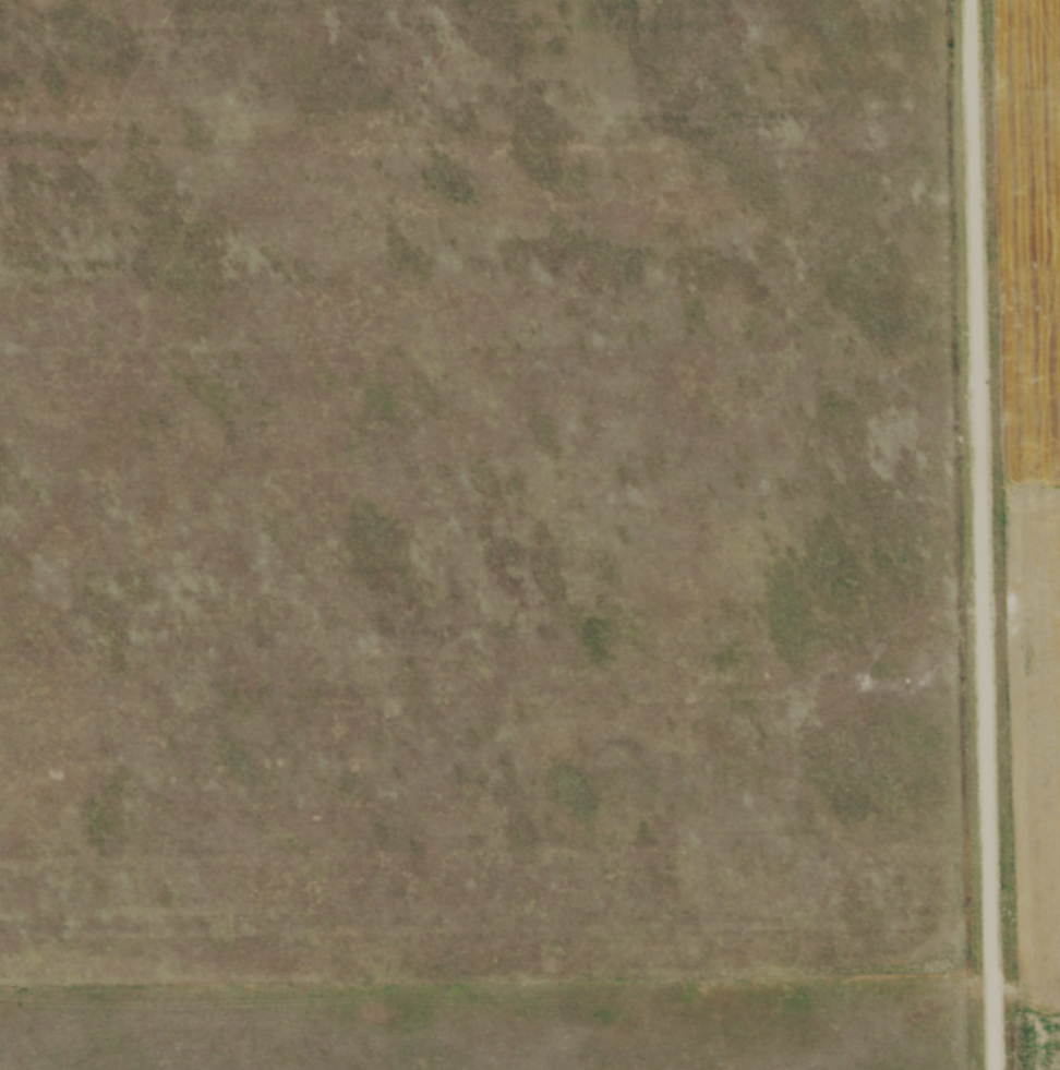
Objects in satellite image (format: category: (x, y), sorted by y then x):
road: (983, 534)
crop: (1038, 1043)

